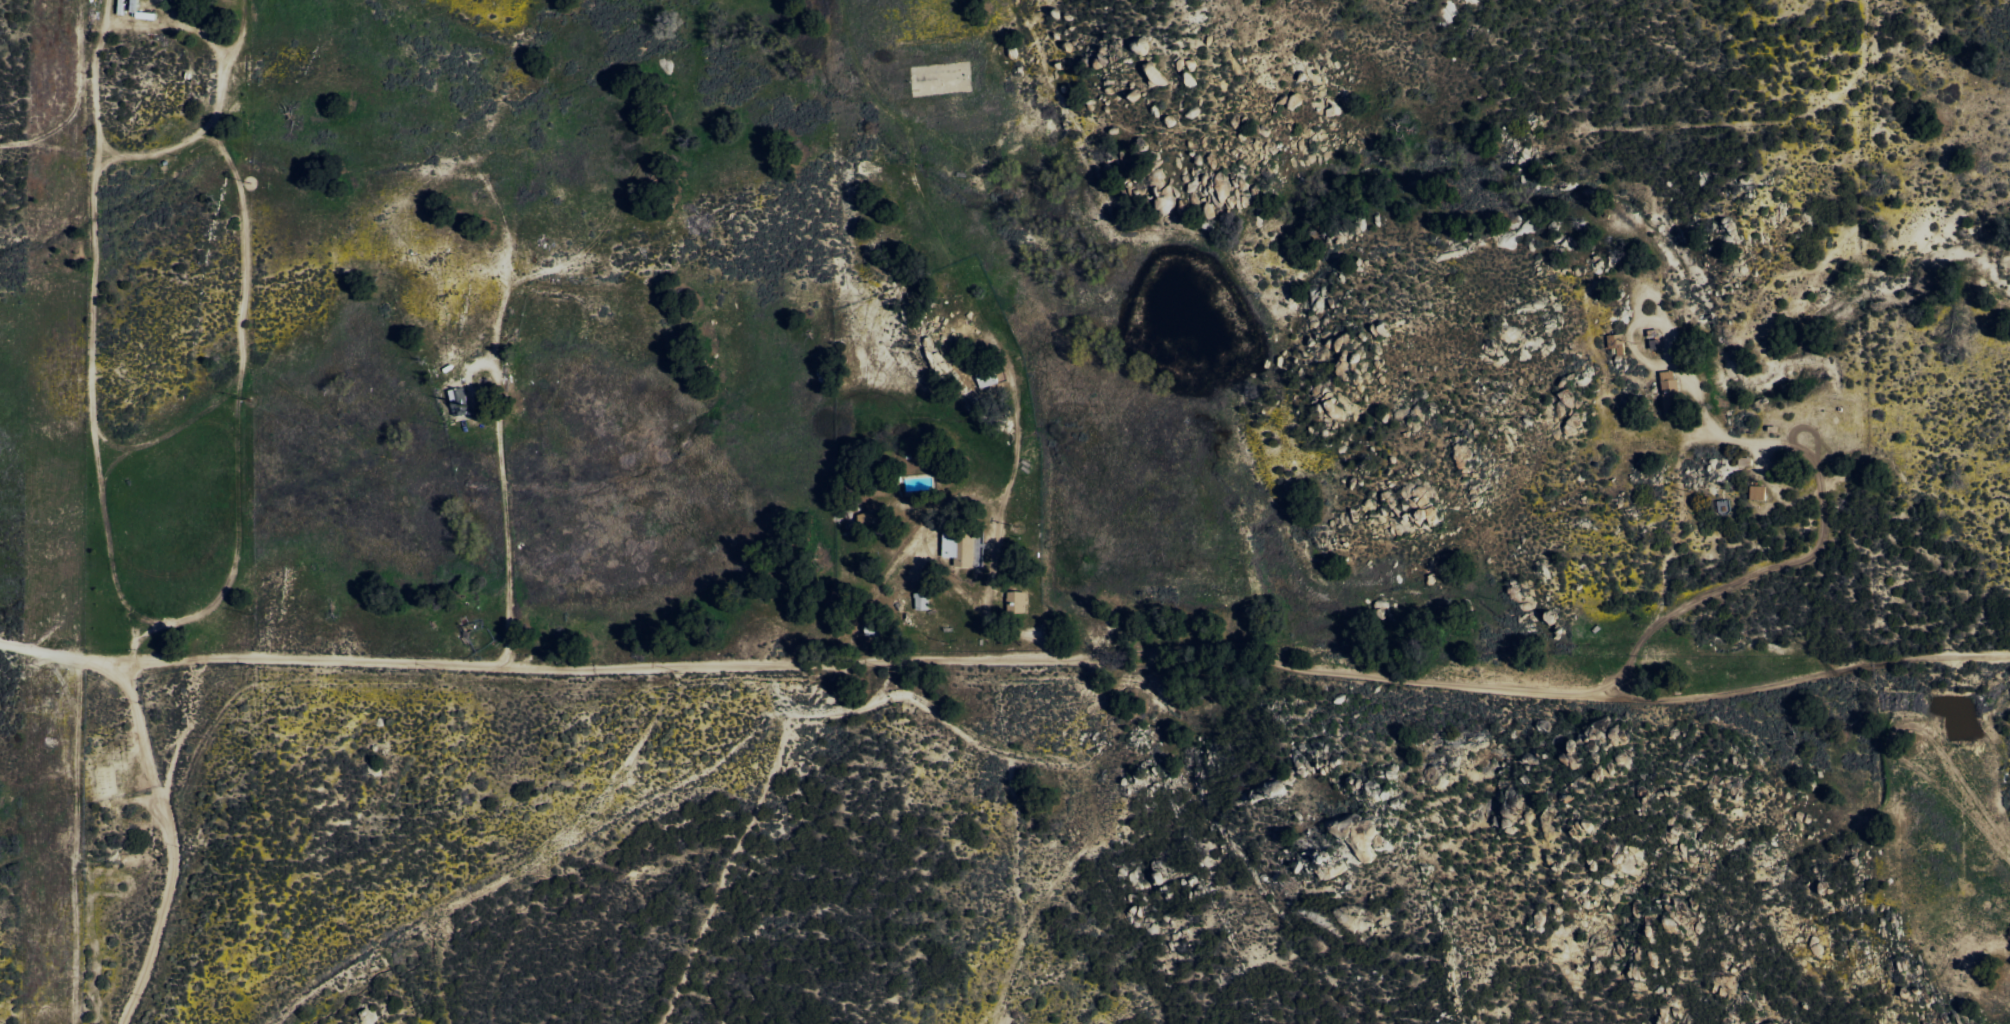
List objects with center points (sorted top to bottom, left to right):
building: (1670, 389)
building: (459, 402)
building: (1758, 492)
building: (962, 547)
building: (922, 600)
building: (1017, 600)
building: (873, 630)

